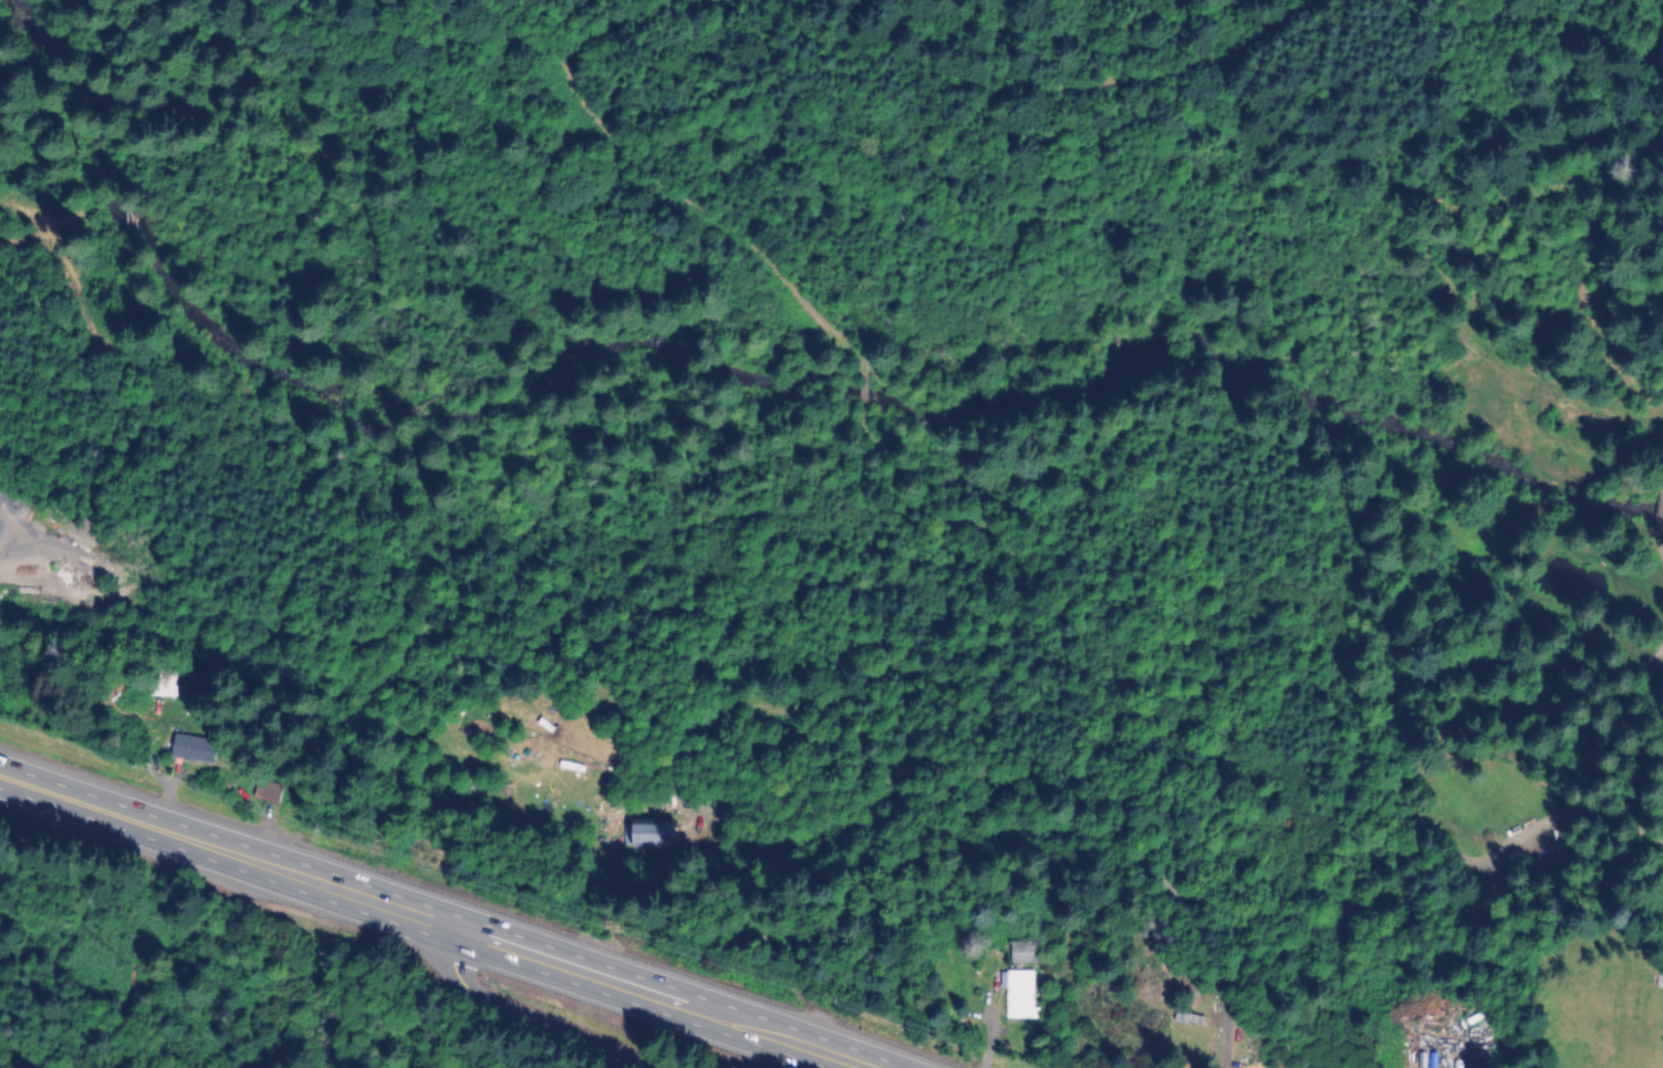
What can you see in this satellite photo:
building: (859, 390)
building: (162, 685)
building: (189, 750)
building: (263, 794)
building: (648, 836)
road: (433, 919)
building: (1022, 953)
building: (1018, 996)
road: (515, 1016)

